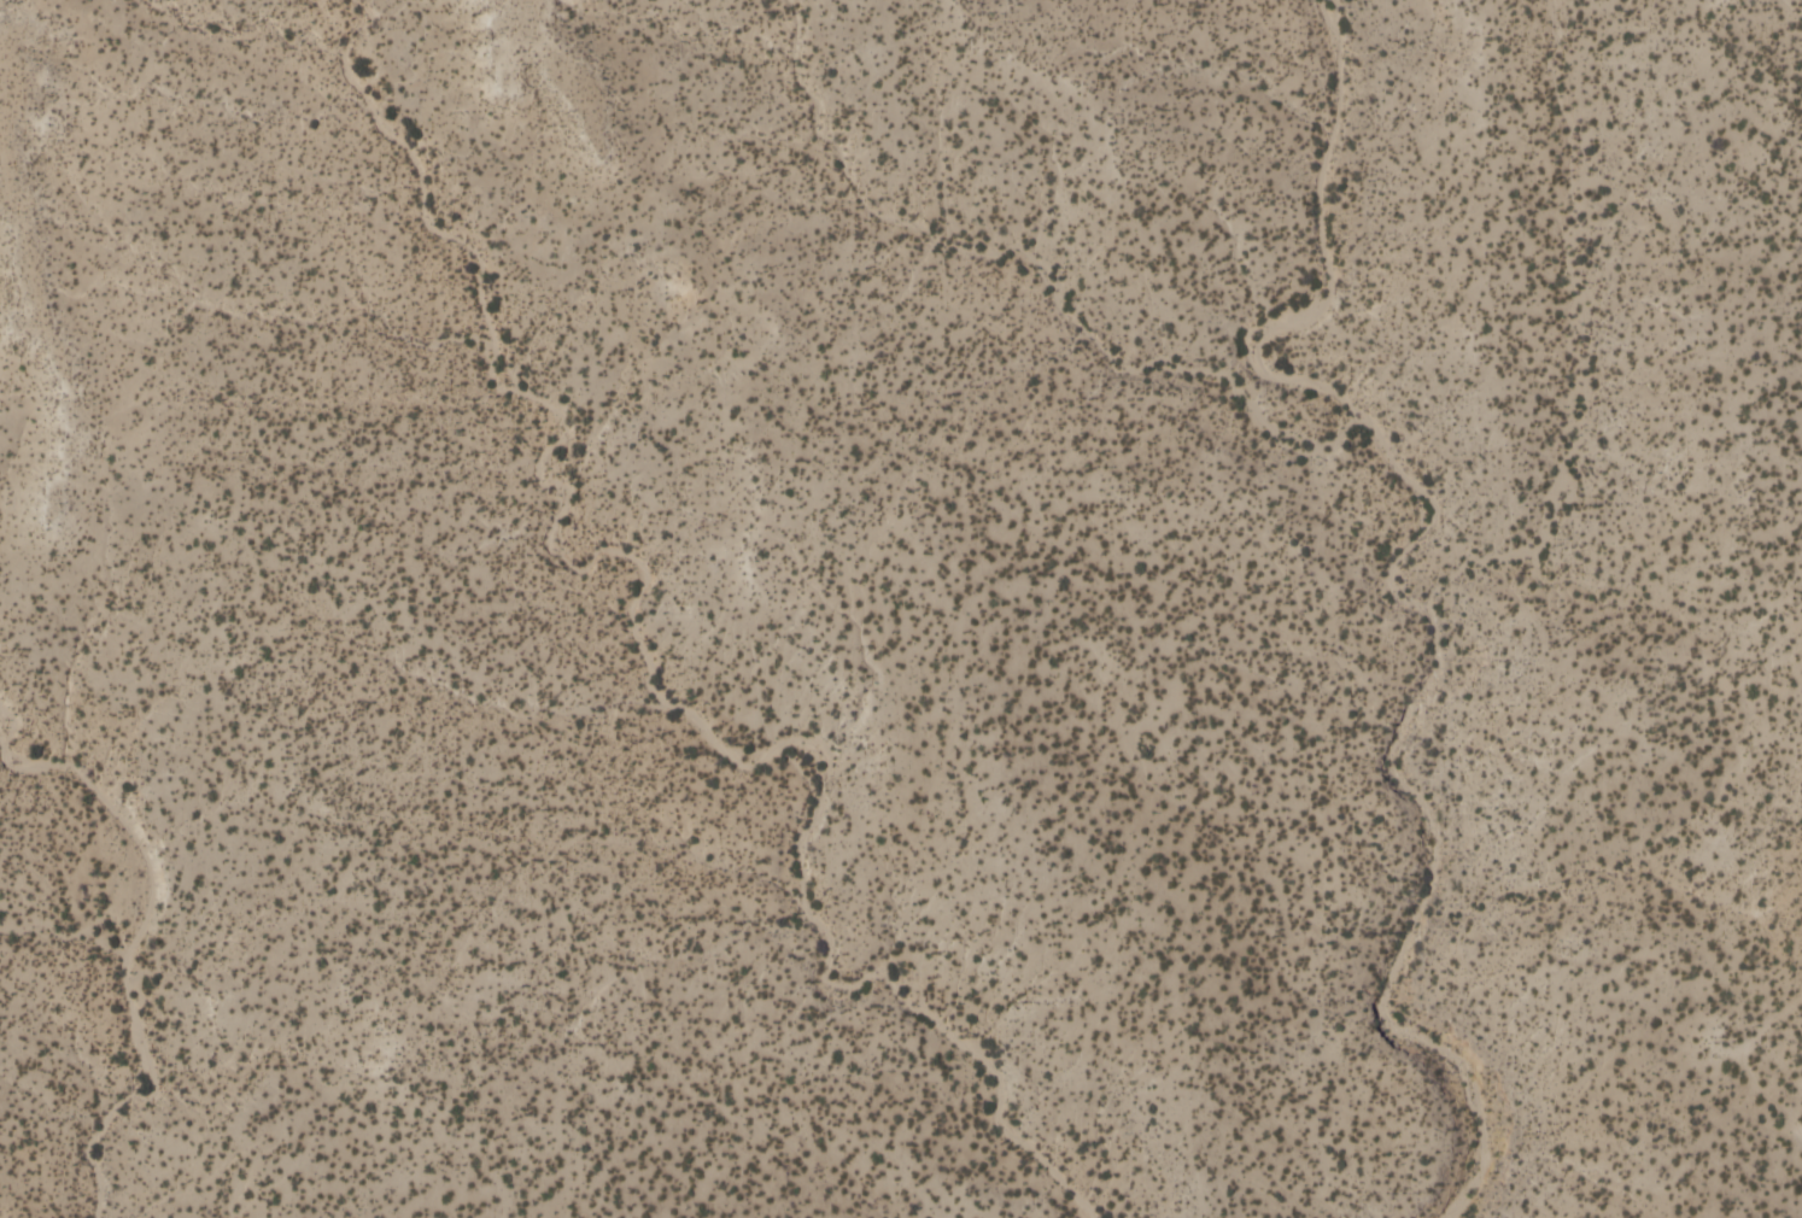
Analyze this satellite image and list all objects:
road: (1625, 980)
road: (1765, 1090)

